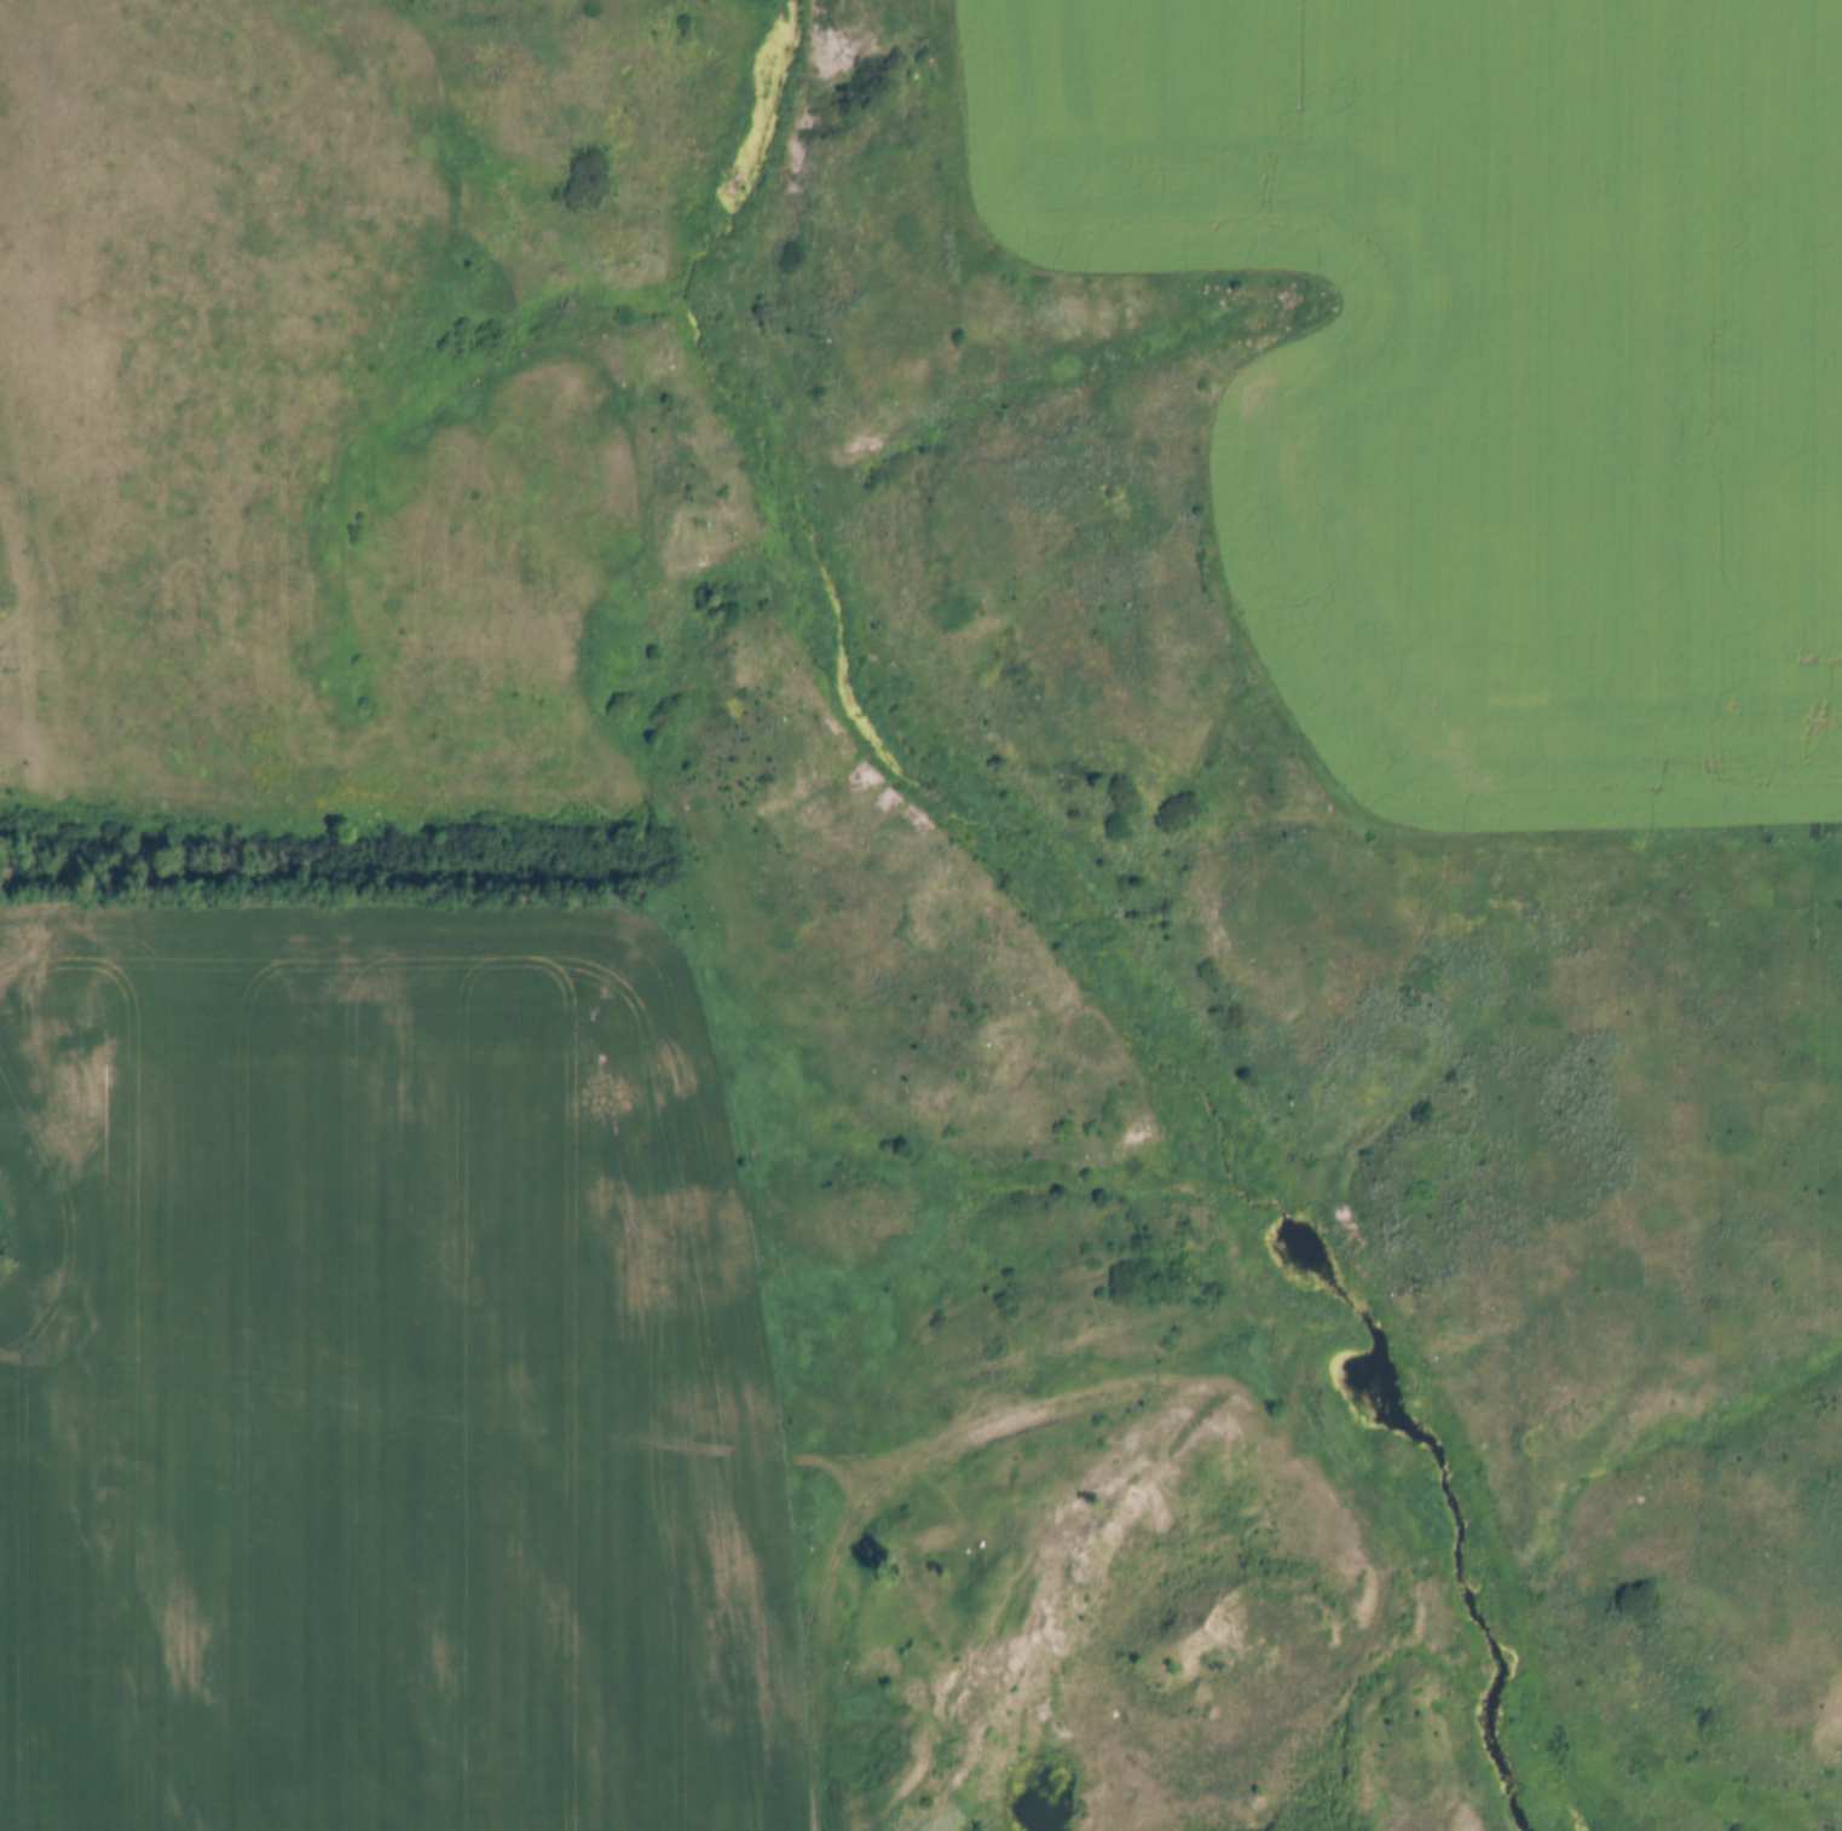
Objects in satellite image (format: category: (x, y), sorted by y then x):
road: (1116, 1386)
quarry: (1132, 1629)

